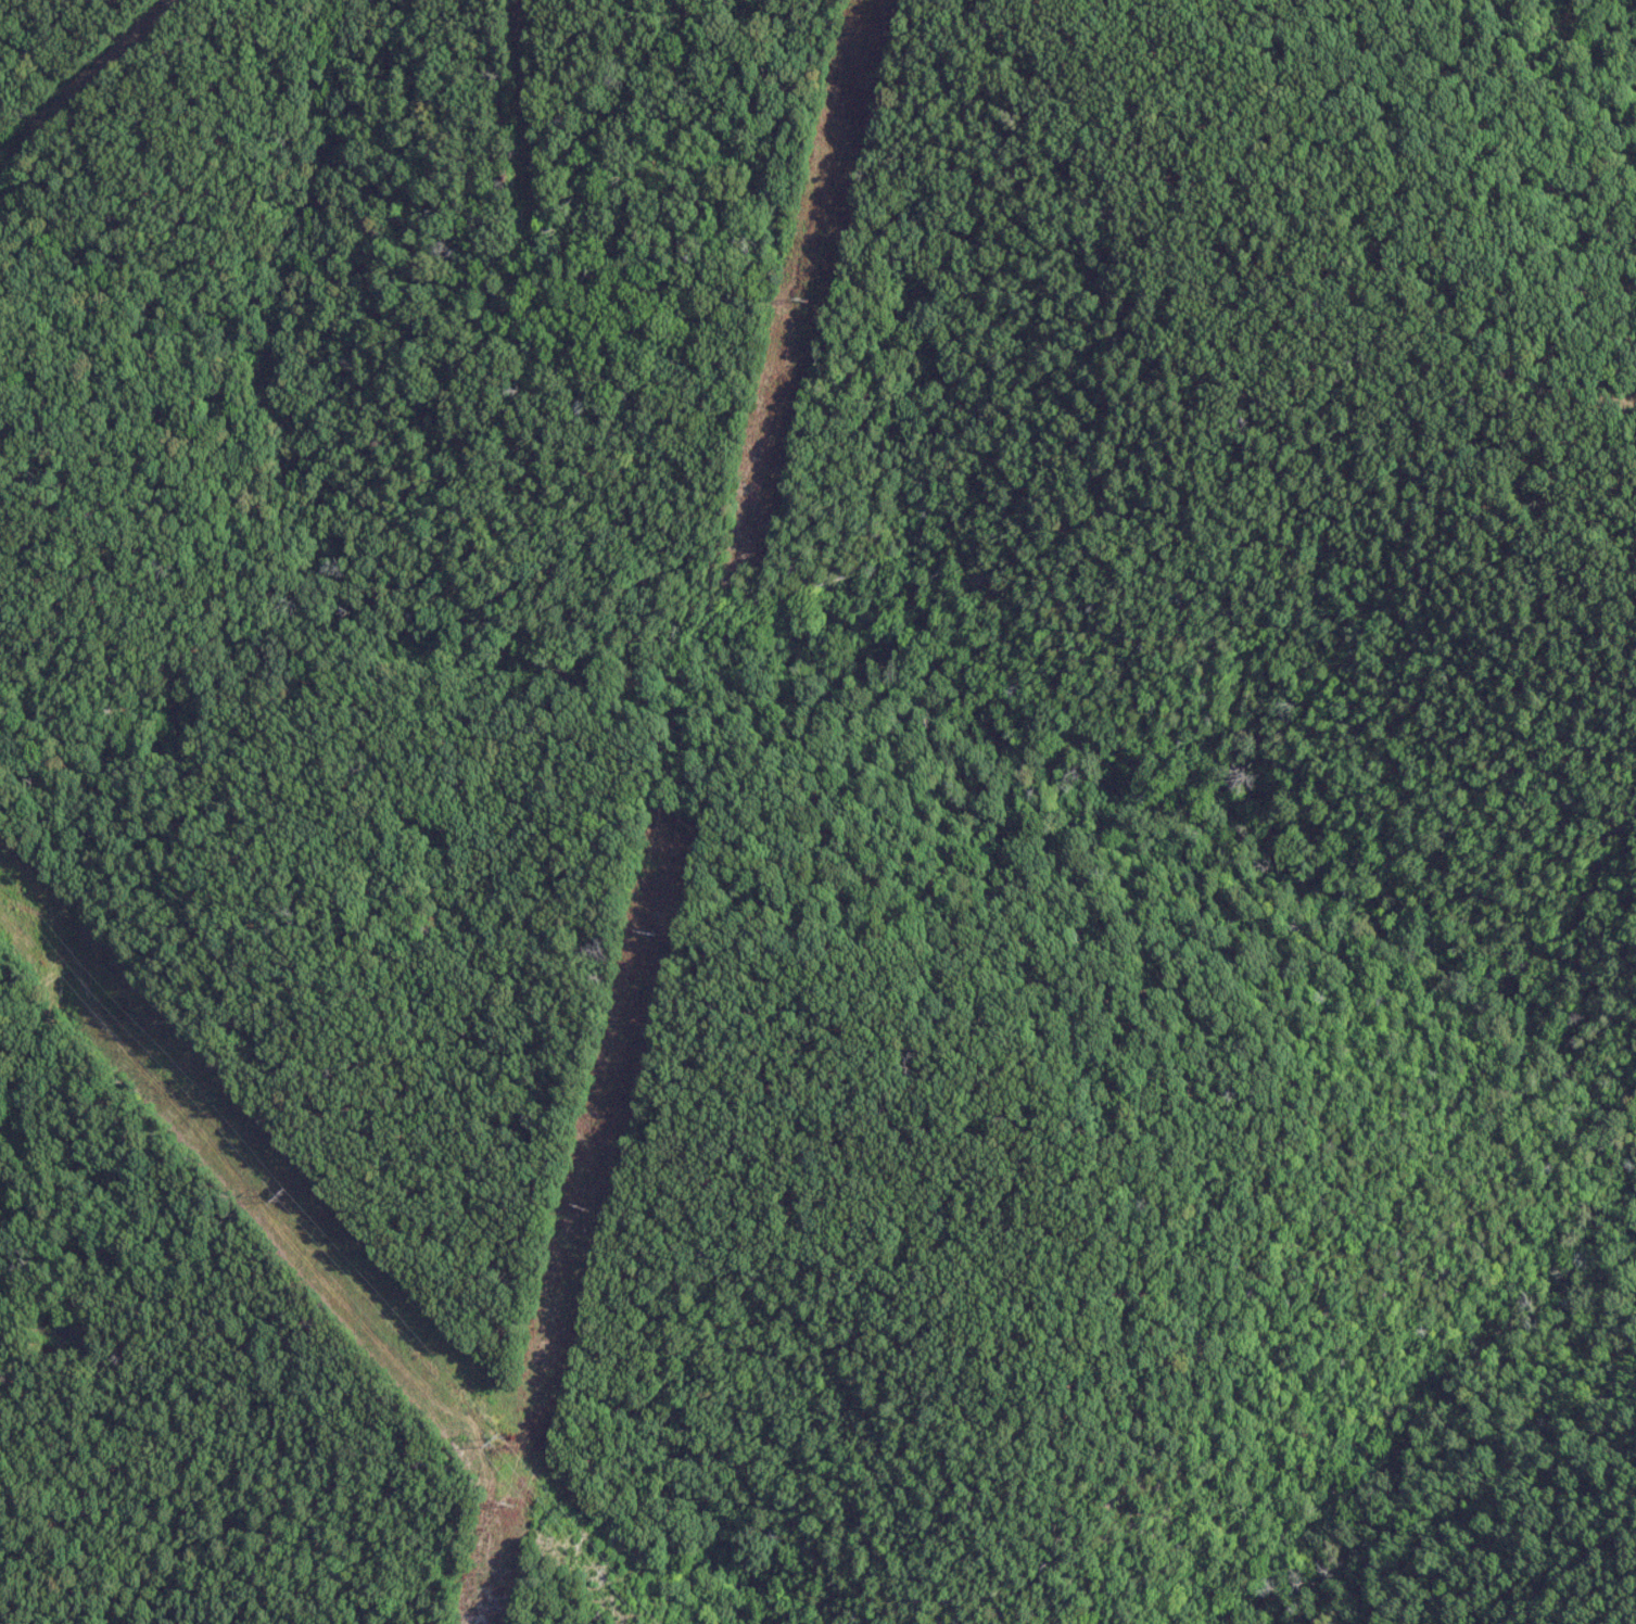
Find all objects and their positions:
power tower: (799, 301)
power tower: (648, 932)
power tower: (280, 1197)
power tower: (583, 1207)
power tower: (496, 1441)
power tower: (505, 1502)

